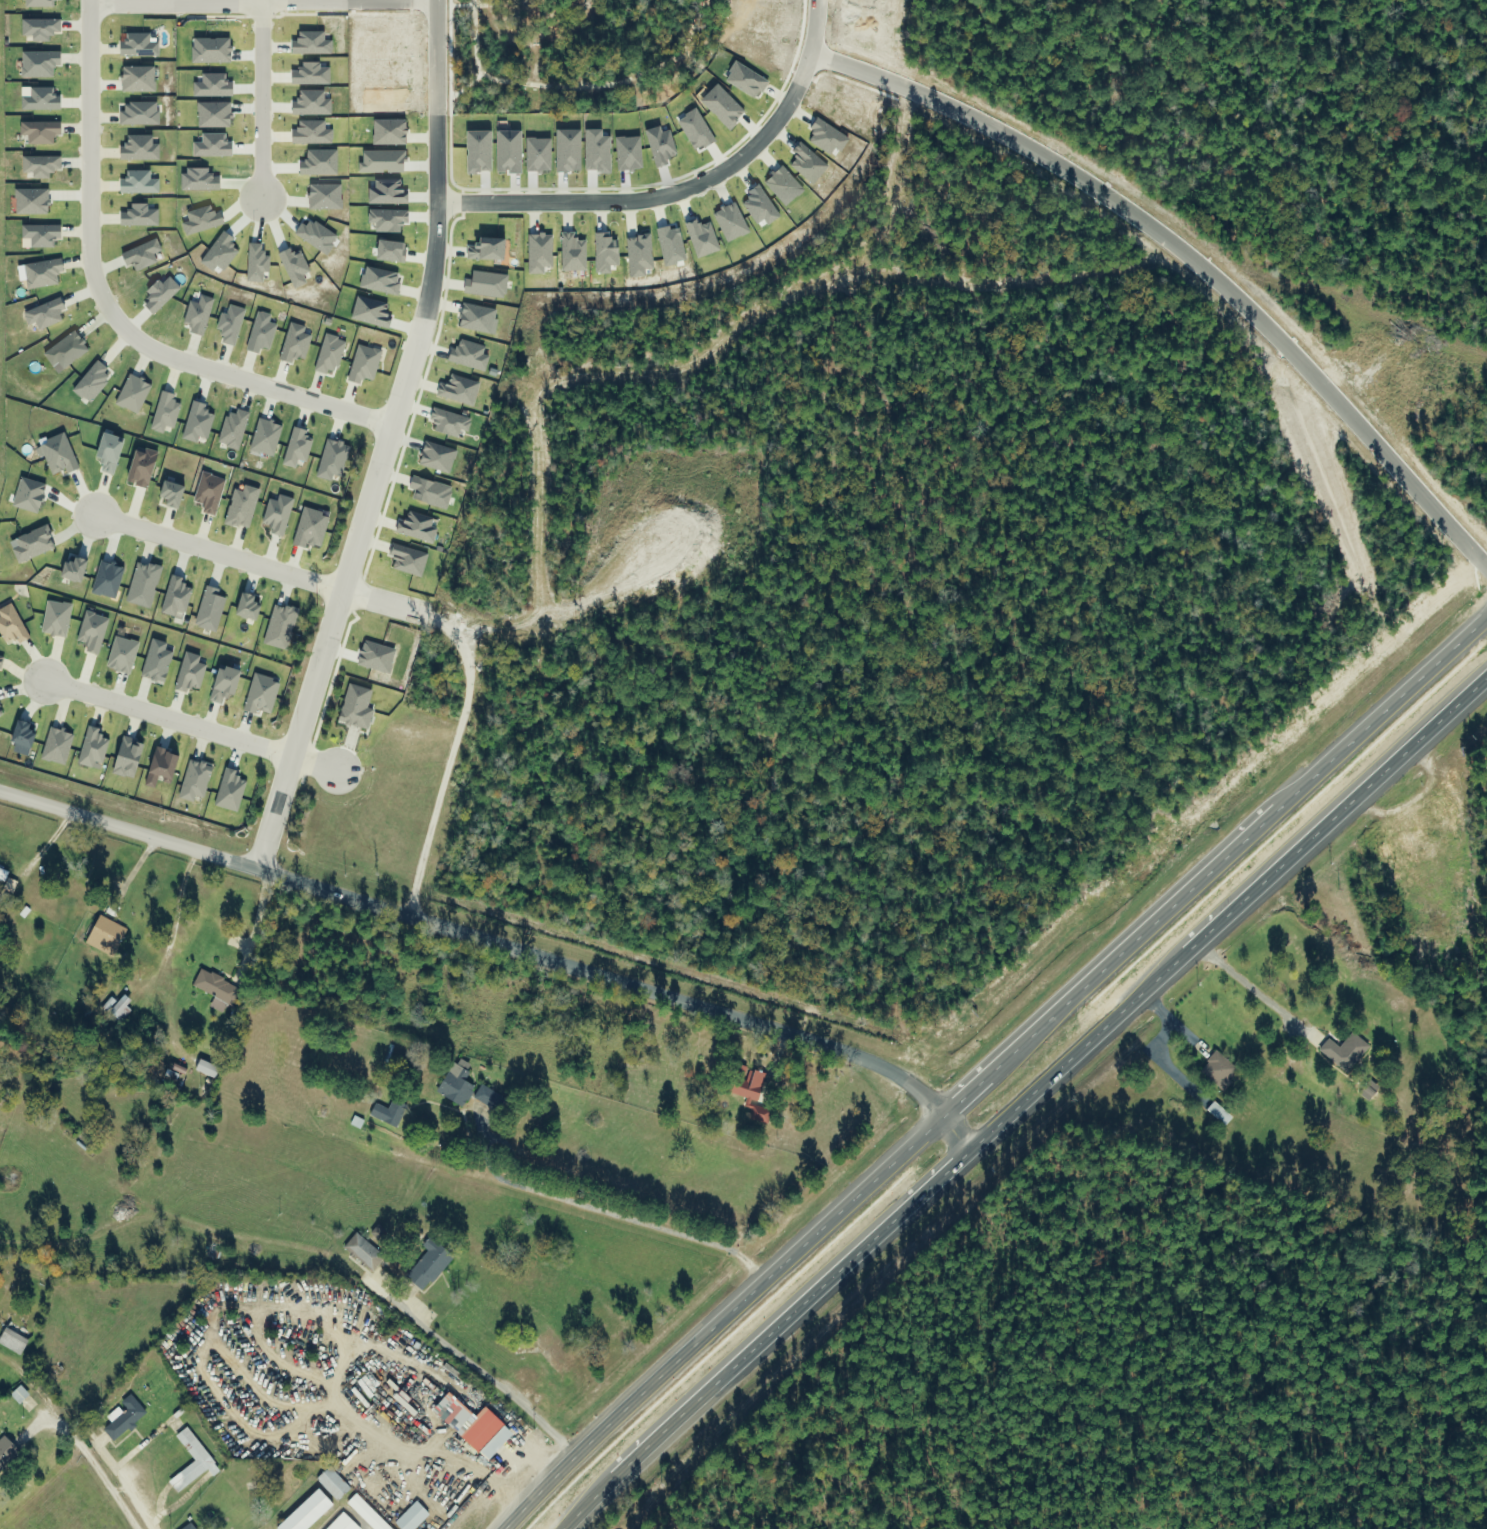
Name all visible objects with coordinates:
road: (113, 0)
road: (303, 1)
road: (264, 99)
road: (643, 200)
road: (439, 211)
road: (105, 309)
road: (259, 563)
road: (342, 585)
road: (189, 723)
building: (1447, 818)
building: (1419, 846)
building: (1388, 860)
building: (3, 875)
building: (106, 937)
road: (495, 945)
building: (218, 991)
building: (121, 1008)
building: (1346, 1052)
road: (992, 1067)
building: (209, 1069)
building: (1218, 1071)
building: (458, 1085)
building: (754, 1091)
road: (1019, 1096)
building: (490, 1099)
building: (390, 1113)
building: (215, 1250)
road: (317, 1250)
building: (365, 1252)
building: (429, 1264)
building: (14, 1337)
building: (21, 1396)
building: (126, 1418)
building: (488, 1434)
building: (196, 1449)
road: (85, 1452)
building: (8, 1454)
building: (335, 1484)
building: (311, 1512)
building: (368, 1514)
road: (145, 1516)
building: (414, 1518)
building: (341, 1524)
building: (191, 1527)

